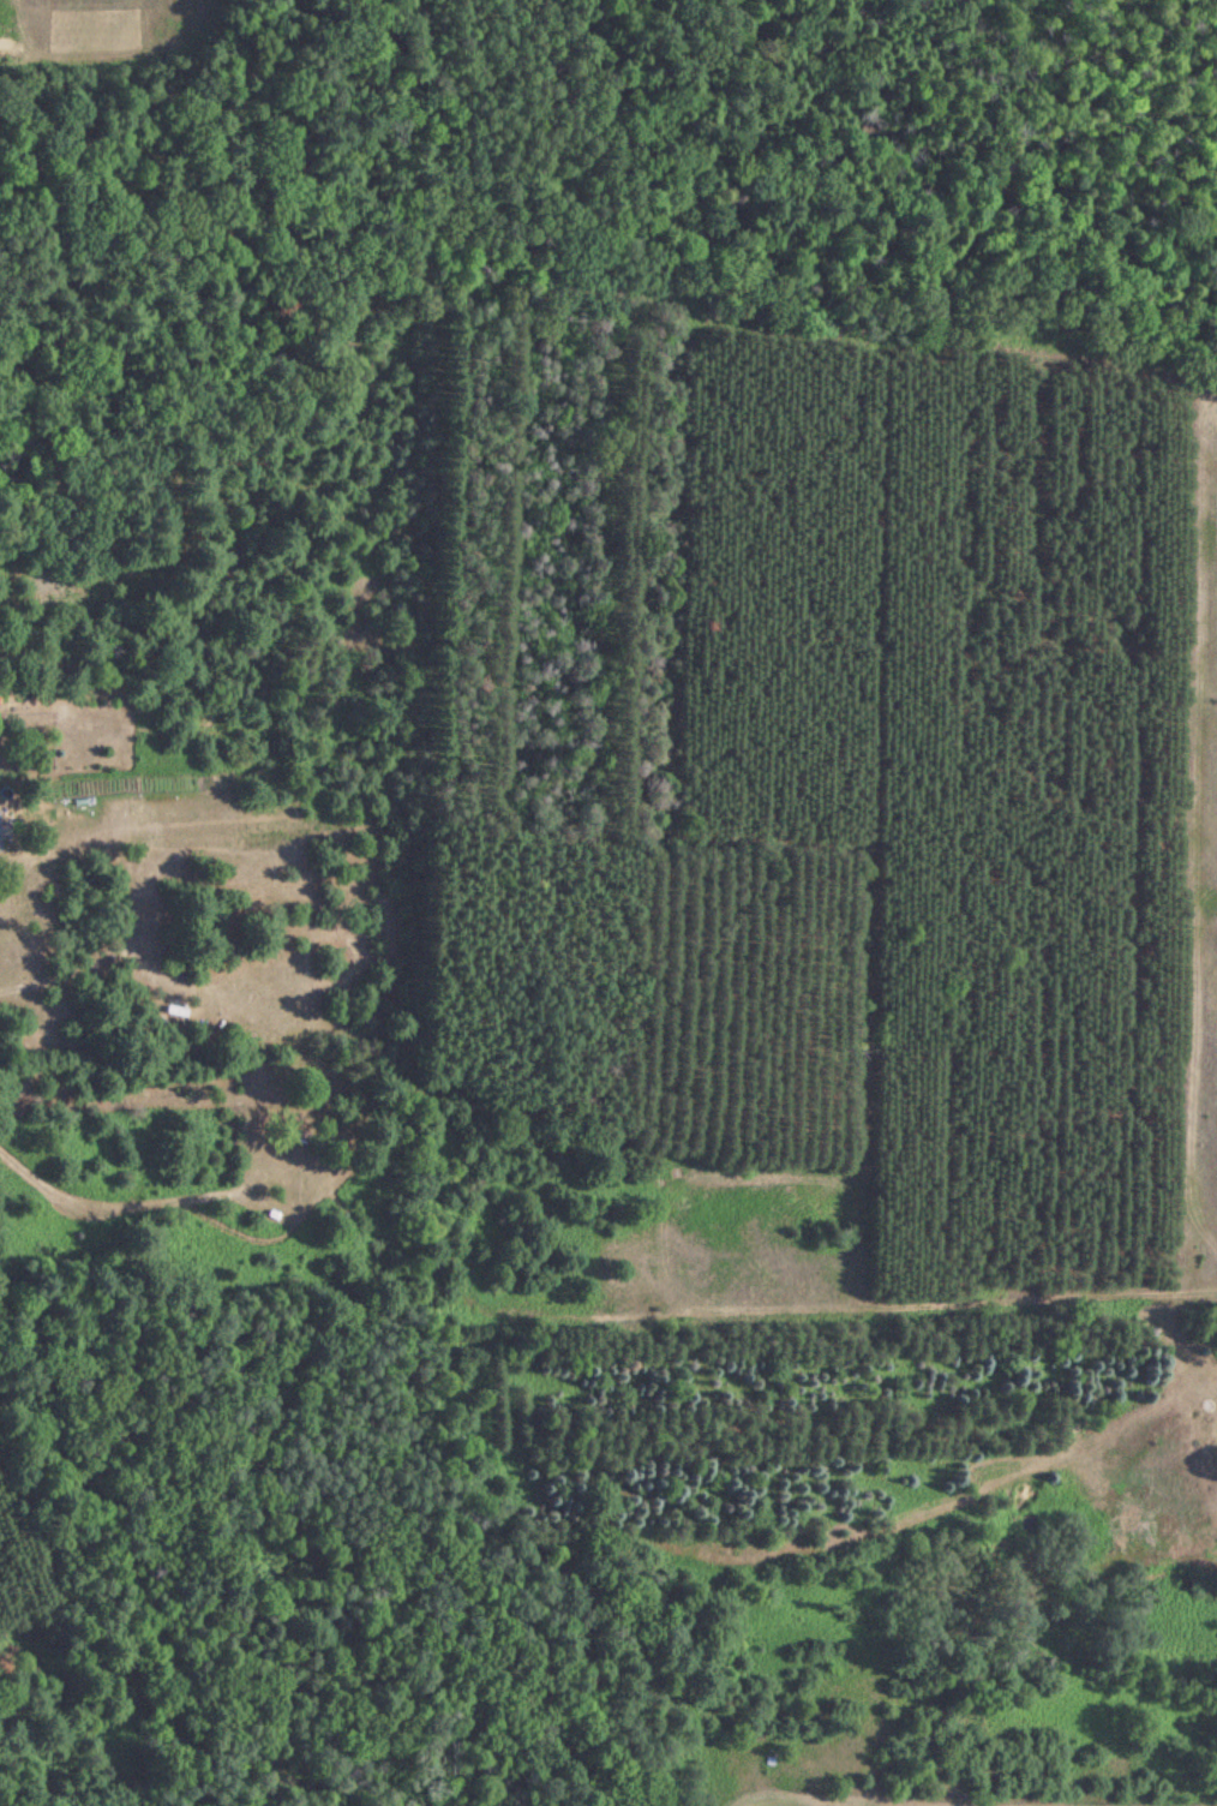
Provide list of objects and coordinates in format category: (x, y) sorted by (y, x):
crop: (779, 1793)

